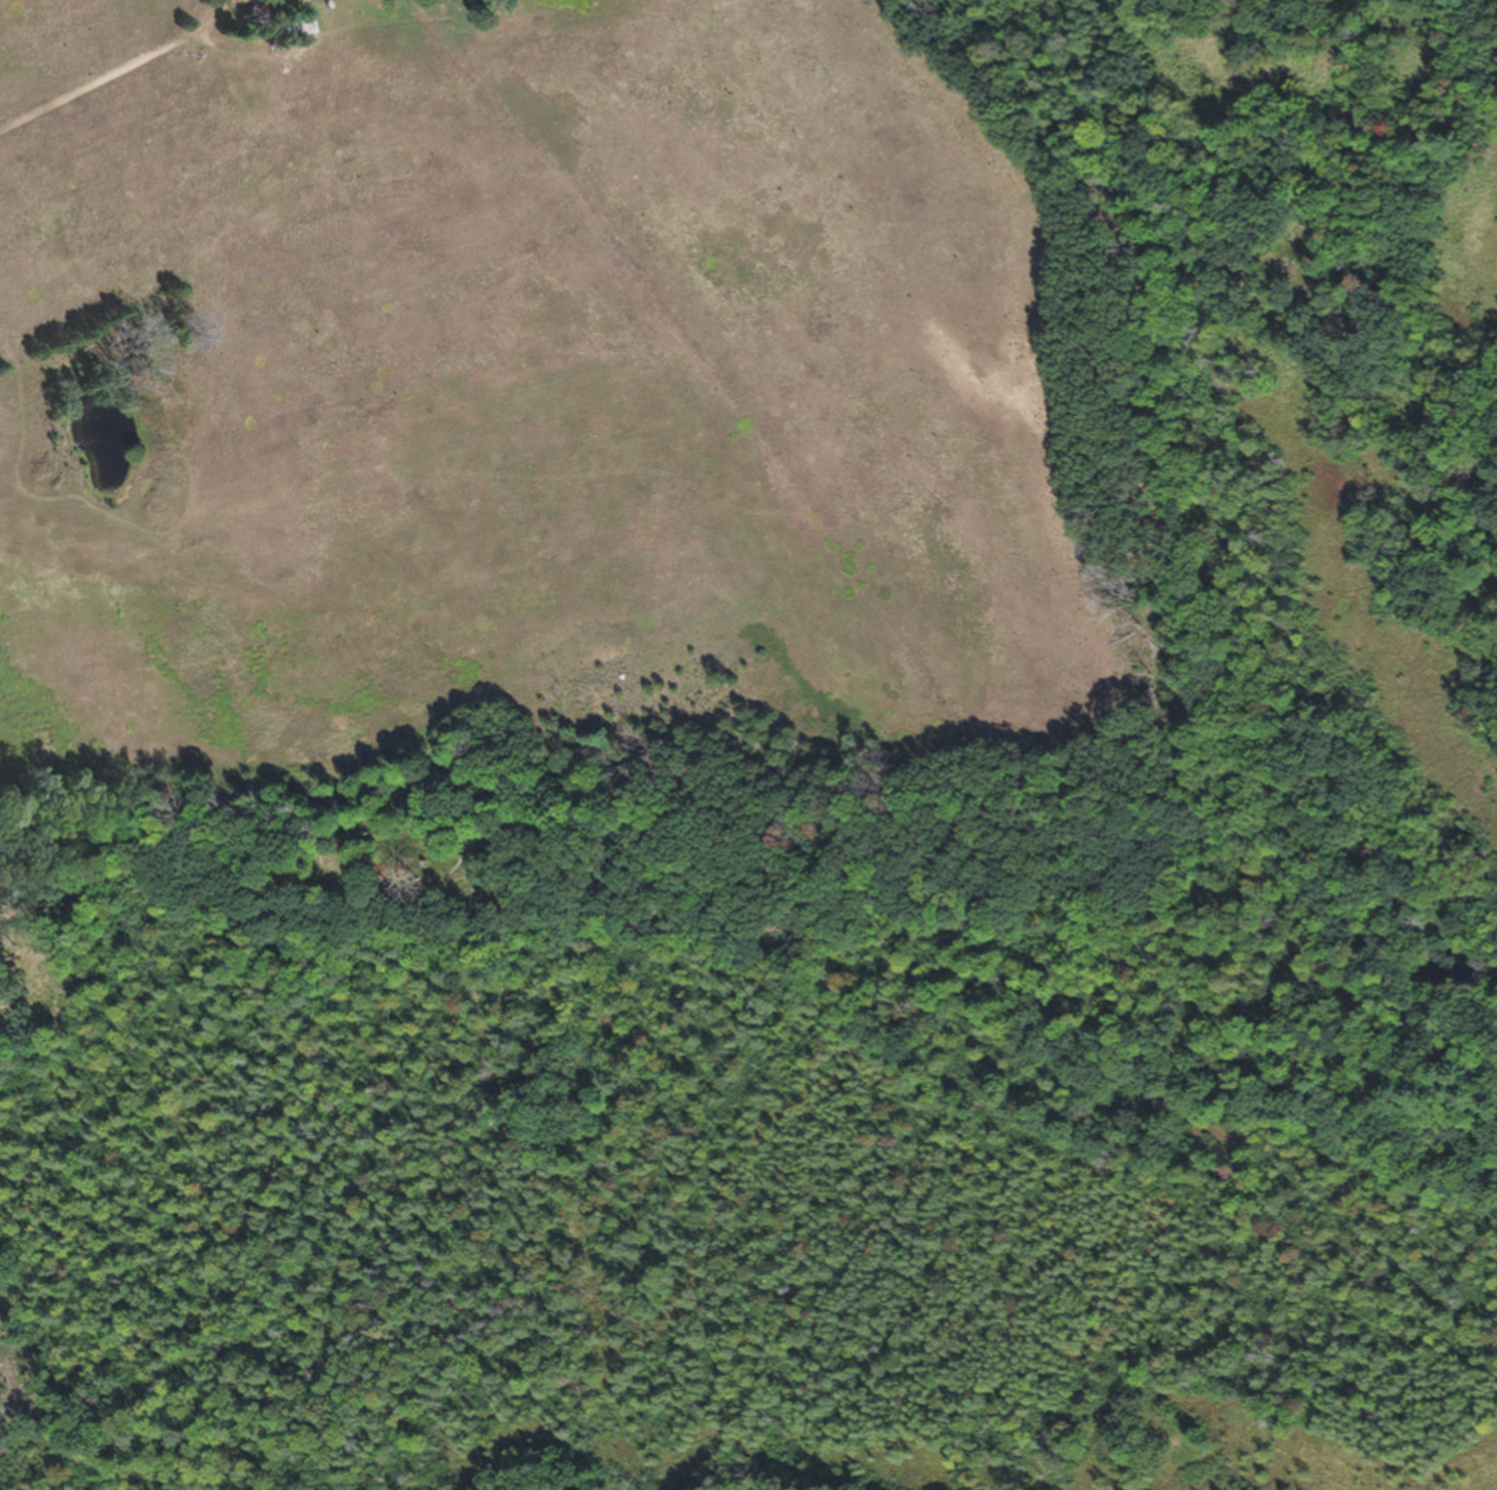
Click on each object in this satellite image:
building: (291, 35)

